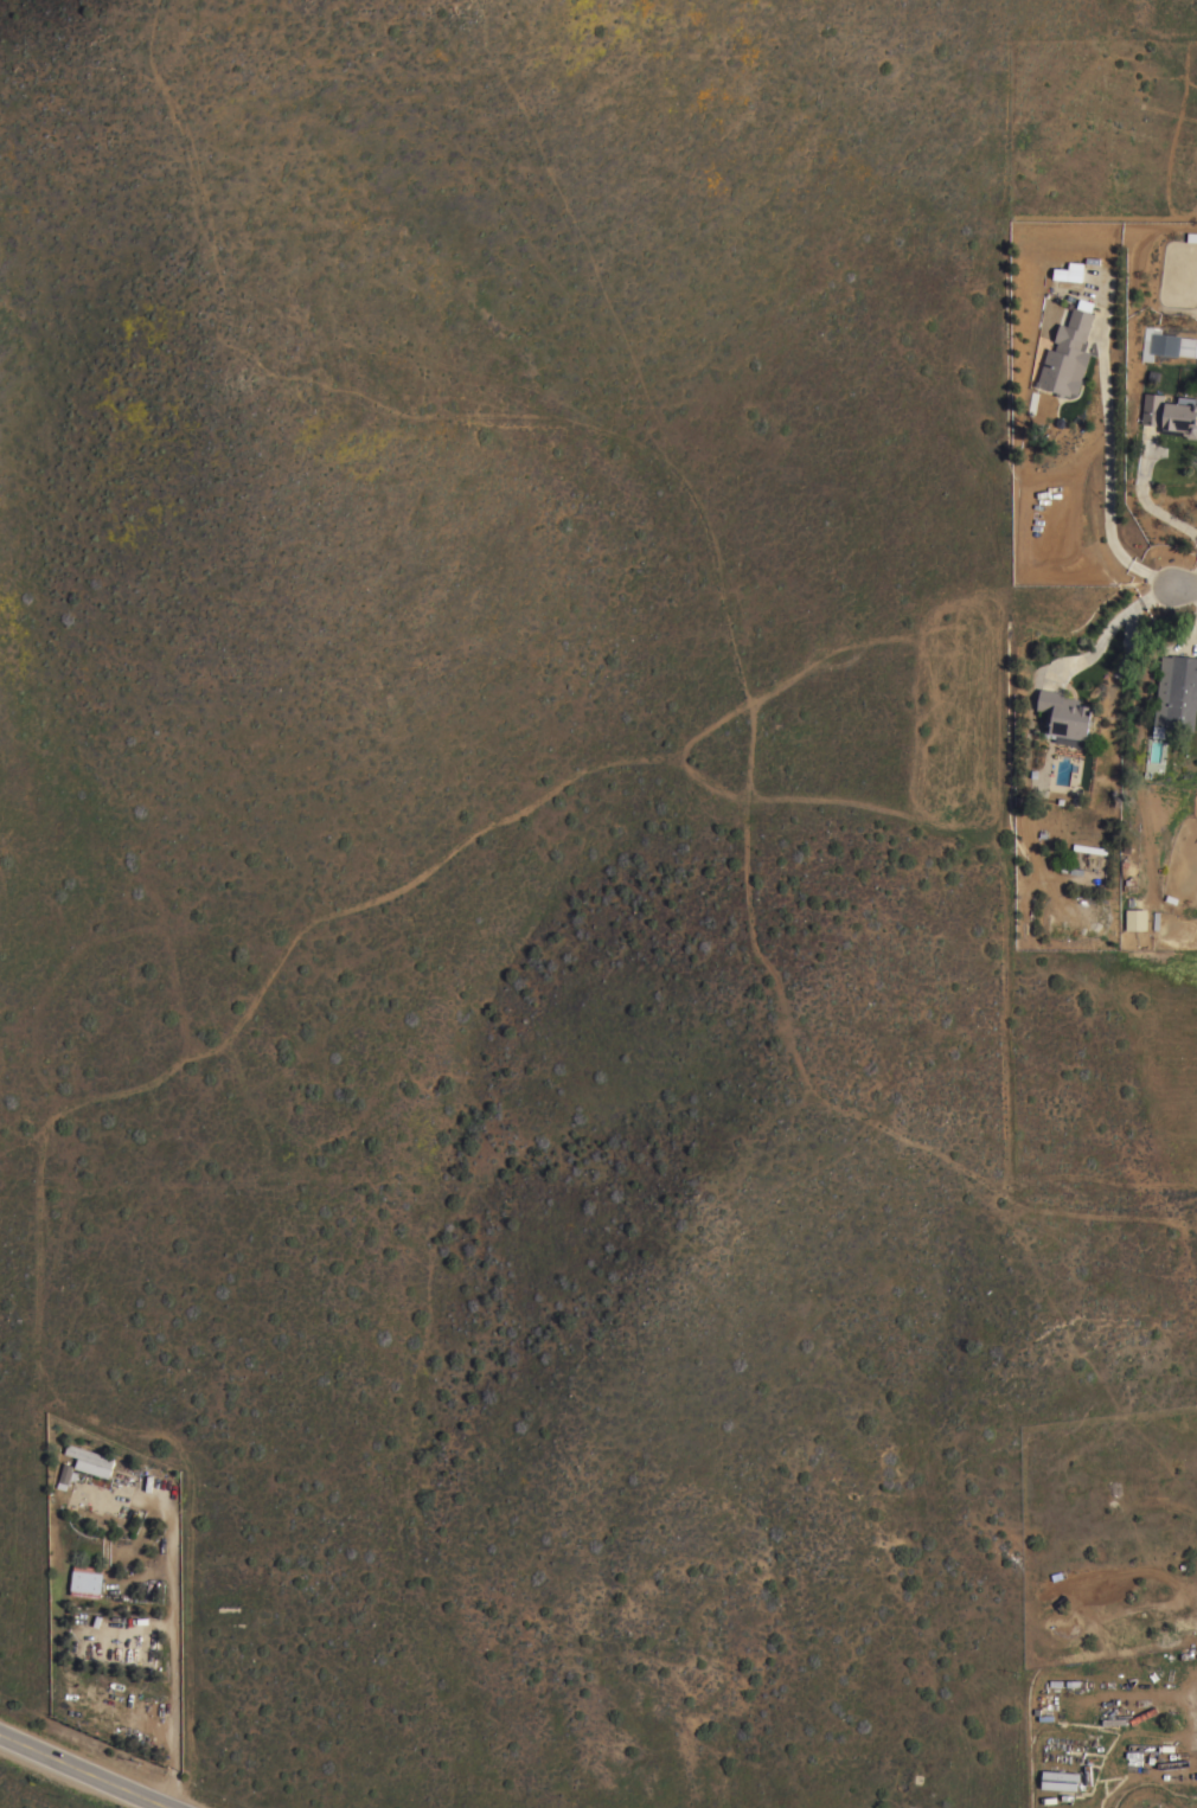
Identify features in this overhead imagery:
building: (1067, 274)
building: (1165, 344)
building: (1067, 355)
building: (1171, 413)
road: (1112, 476)
road: (1144, 501)
road: (1195, 577)
road: (1186, 586)
road: (1114, 629)
building: (1177, 692)
building: (1064, 717)
building: (1089, 848)
building: (1135, 918)
building: (89, 1458)
building: (64, 1472)
building: (87, 1582)
road: (177, 1617)
road: (82, 1777)
building: (1057, 1780)

